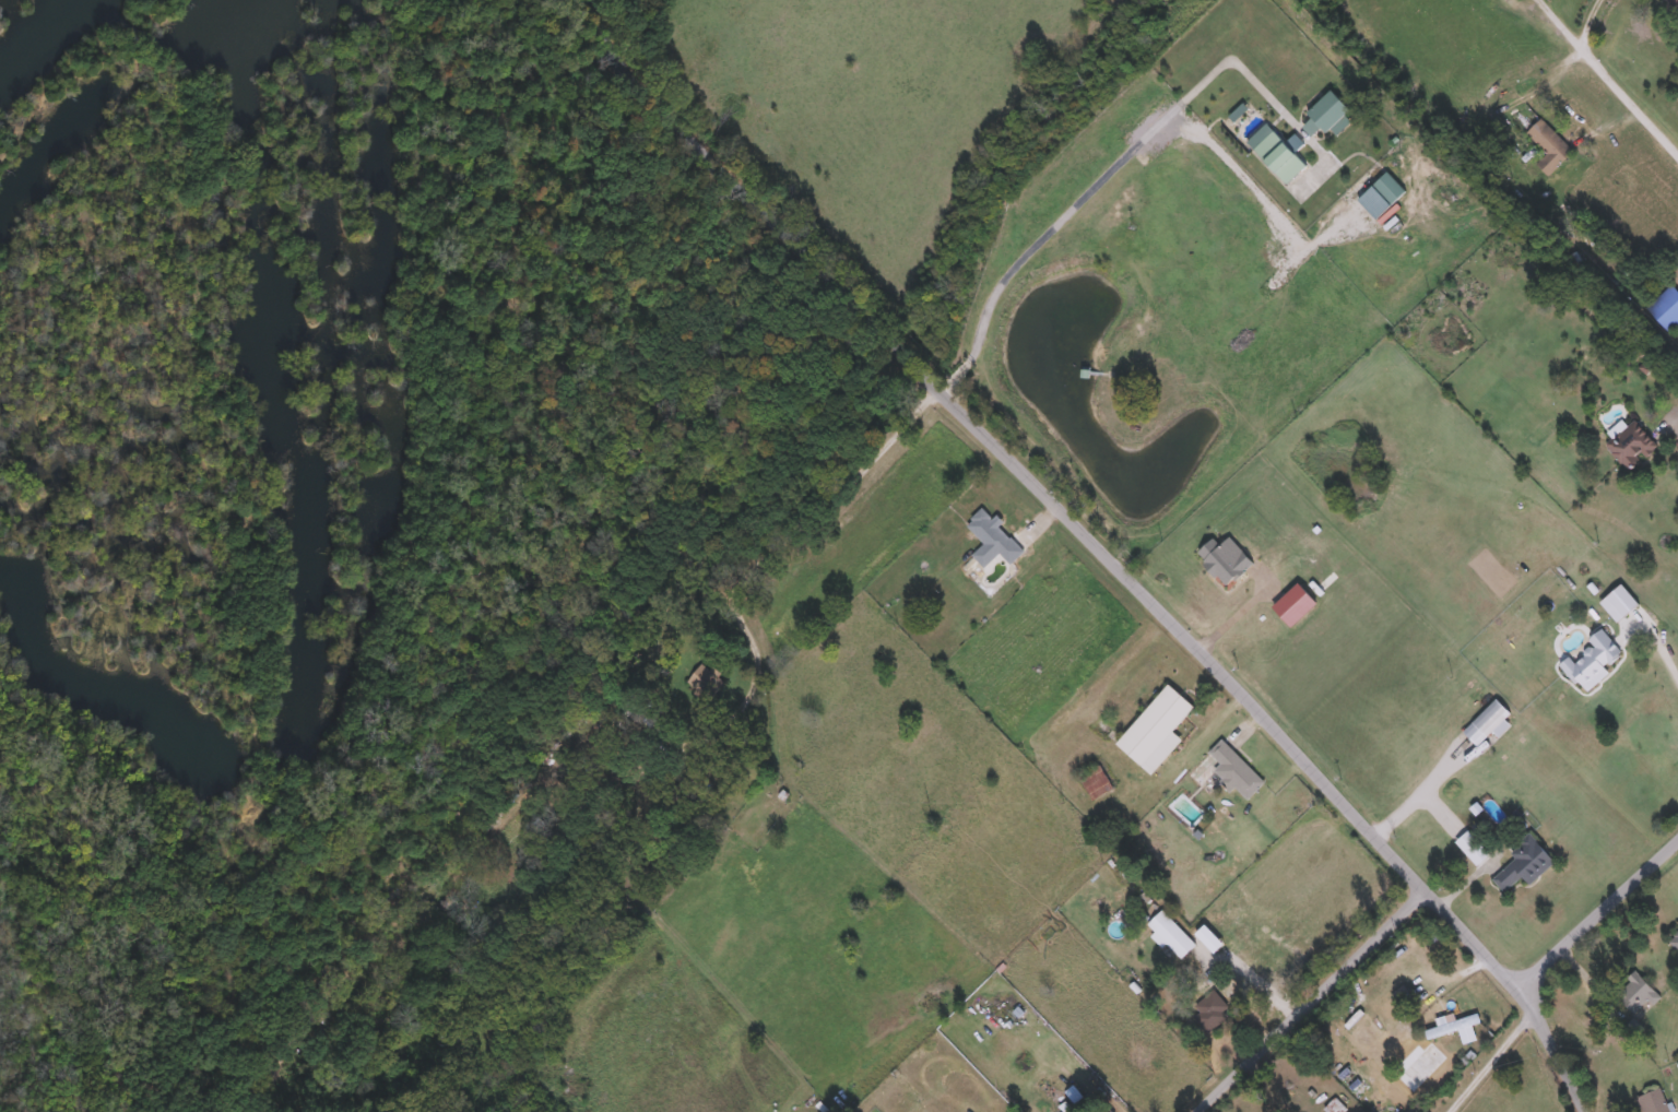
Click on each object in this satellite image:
building: (1674, 3)
road: (1588, 17)
road: (1612, 69)
building: (1549, 145)
building: (1278, 156)
road: (1106, 173)
building: (1389, 186)
building: (1665, 307)
road: (1676, 424)
building: (1631, 446)
road: (794, 524)
building: (992, 537)
road: (1108, 546)
road: (1236, 607)
road: (1664, 650)
building: (1592, 659)
building: (621, 713)
building: (1486, 721)
building: (1156, 729)
building: (1226, 769)
building: (1097, 781)
road: (1418, 792)
building: (1524, 861)
road: (1603, 915)
building: (1171, 933)
building: (1676, 943)
road: (1467, 970)
building: (1636, 991)
road: (1244, 994)
road: (1315, 998)
building: (1214, 1006)
building: (1453, 1022)
road: (1498, 1058)
building: (1421, 1064)
building: (1653, 1100)
building: (1107, 1110)

